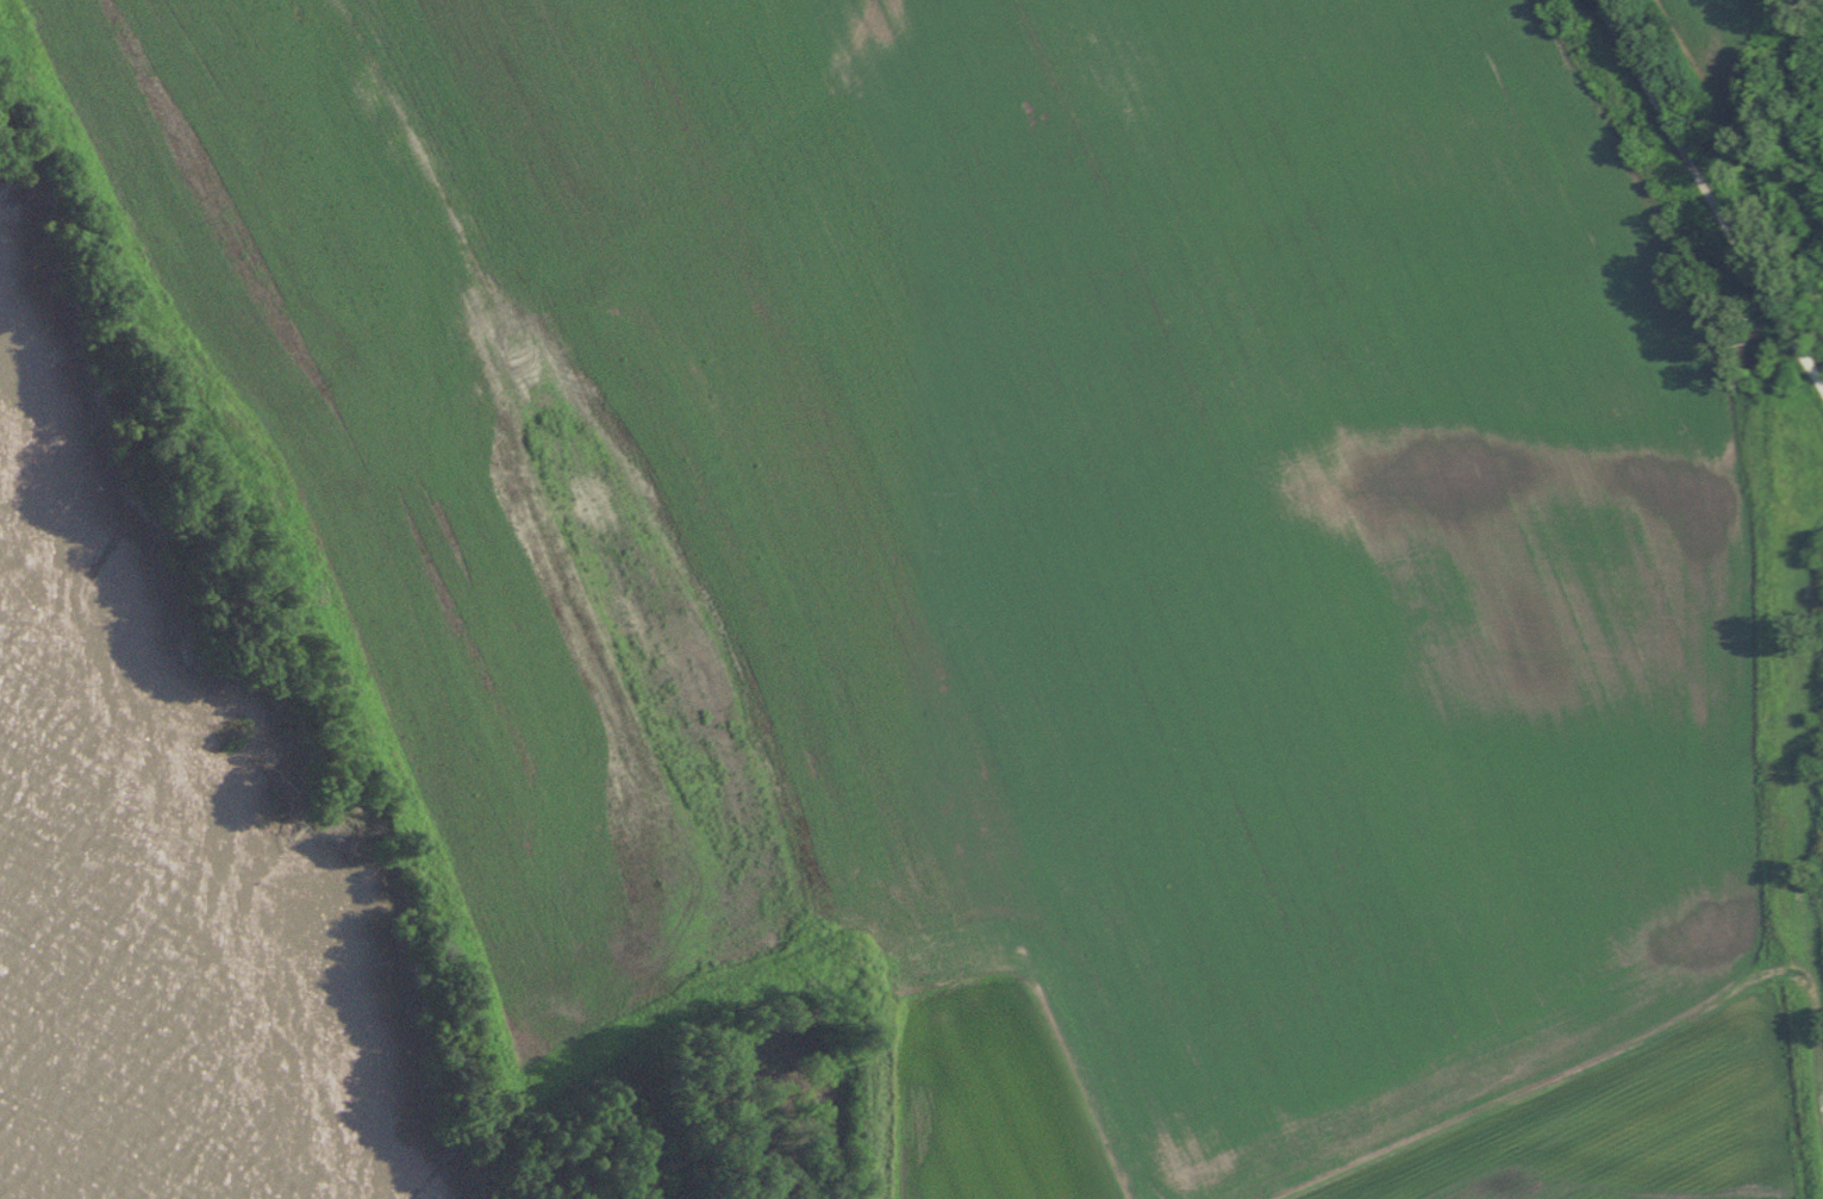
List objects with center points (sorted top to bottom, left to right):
crop: (1723, 49)
road: (1711, 201)
crop: (1029, 548)

